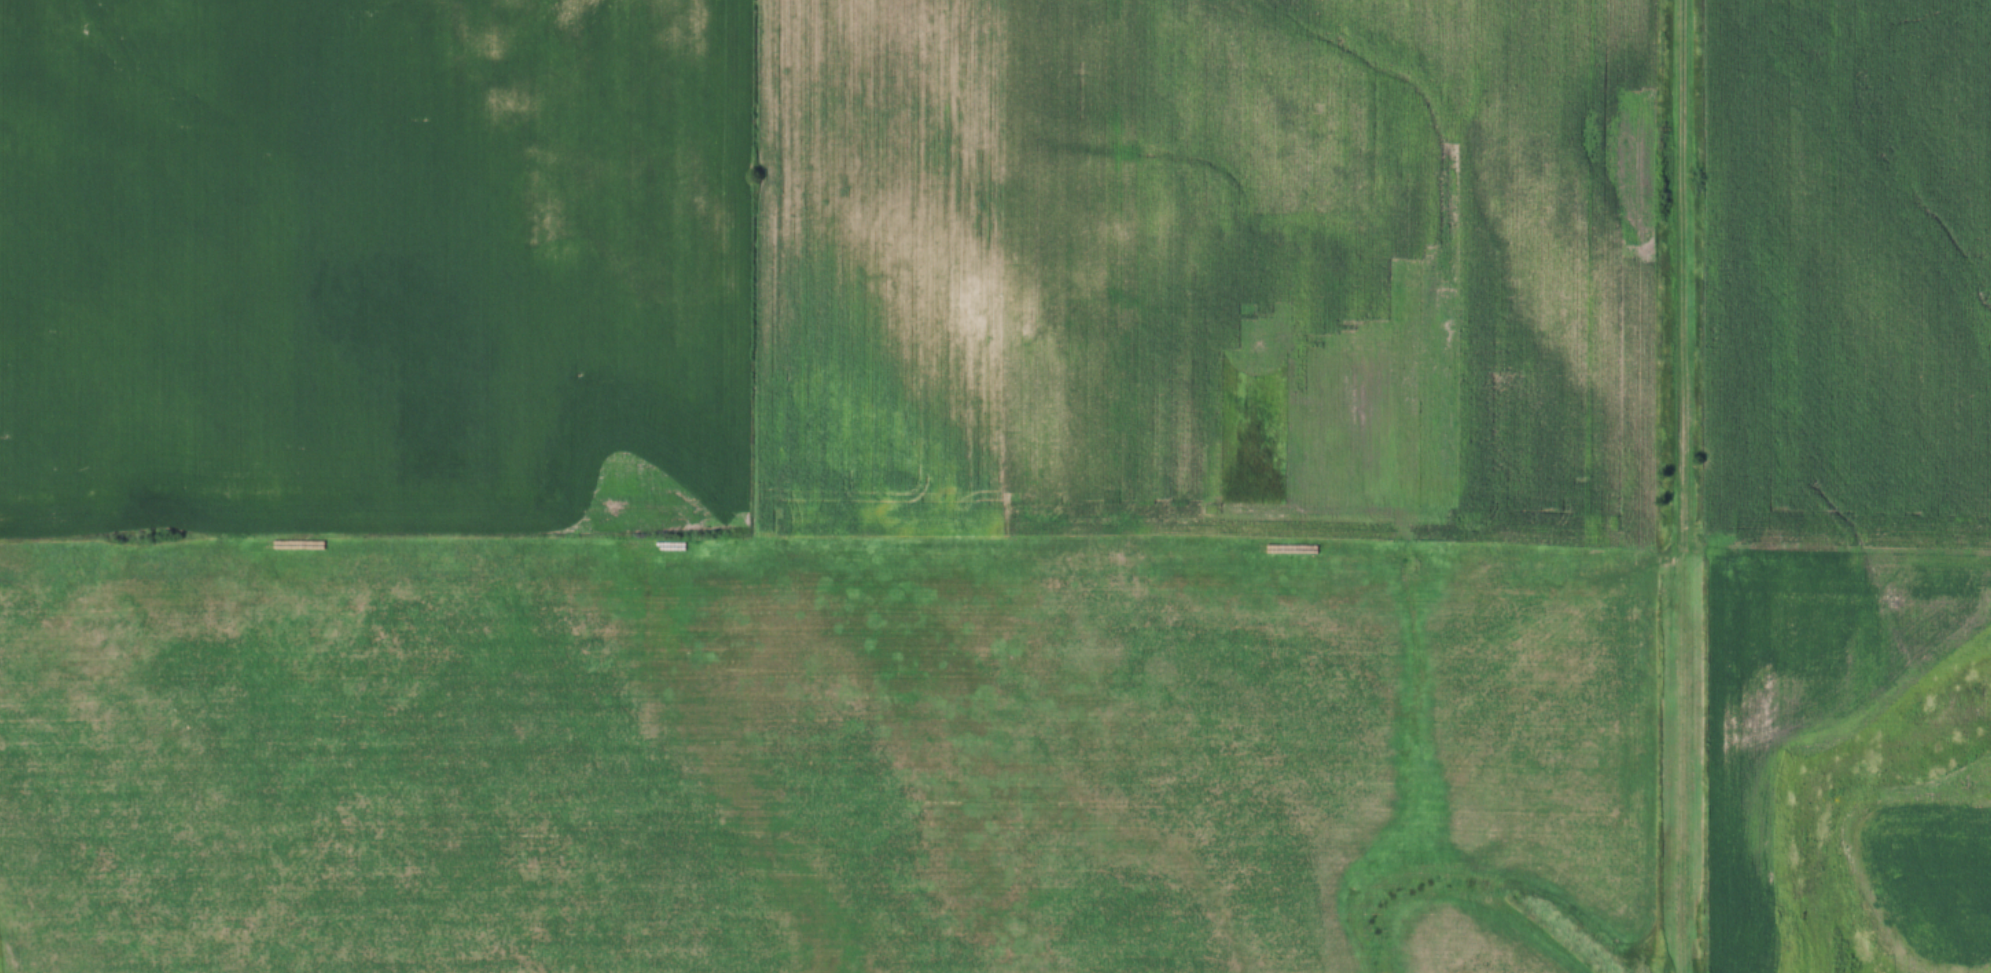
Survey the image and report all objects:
road: (1682, 486)

